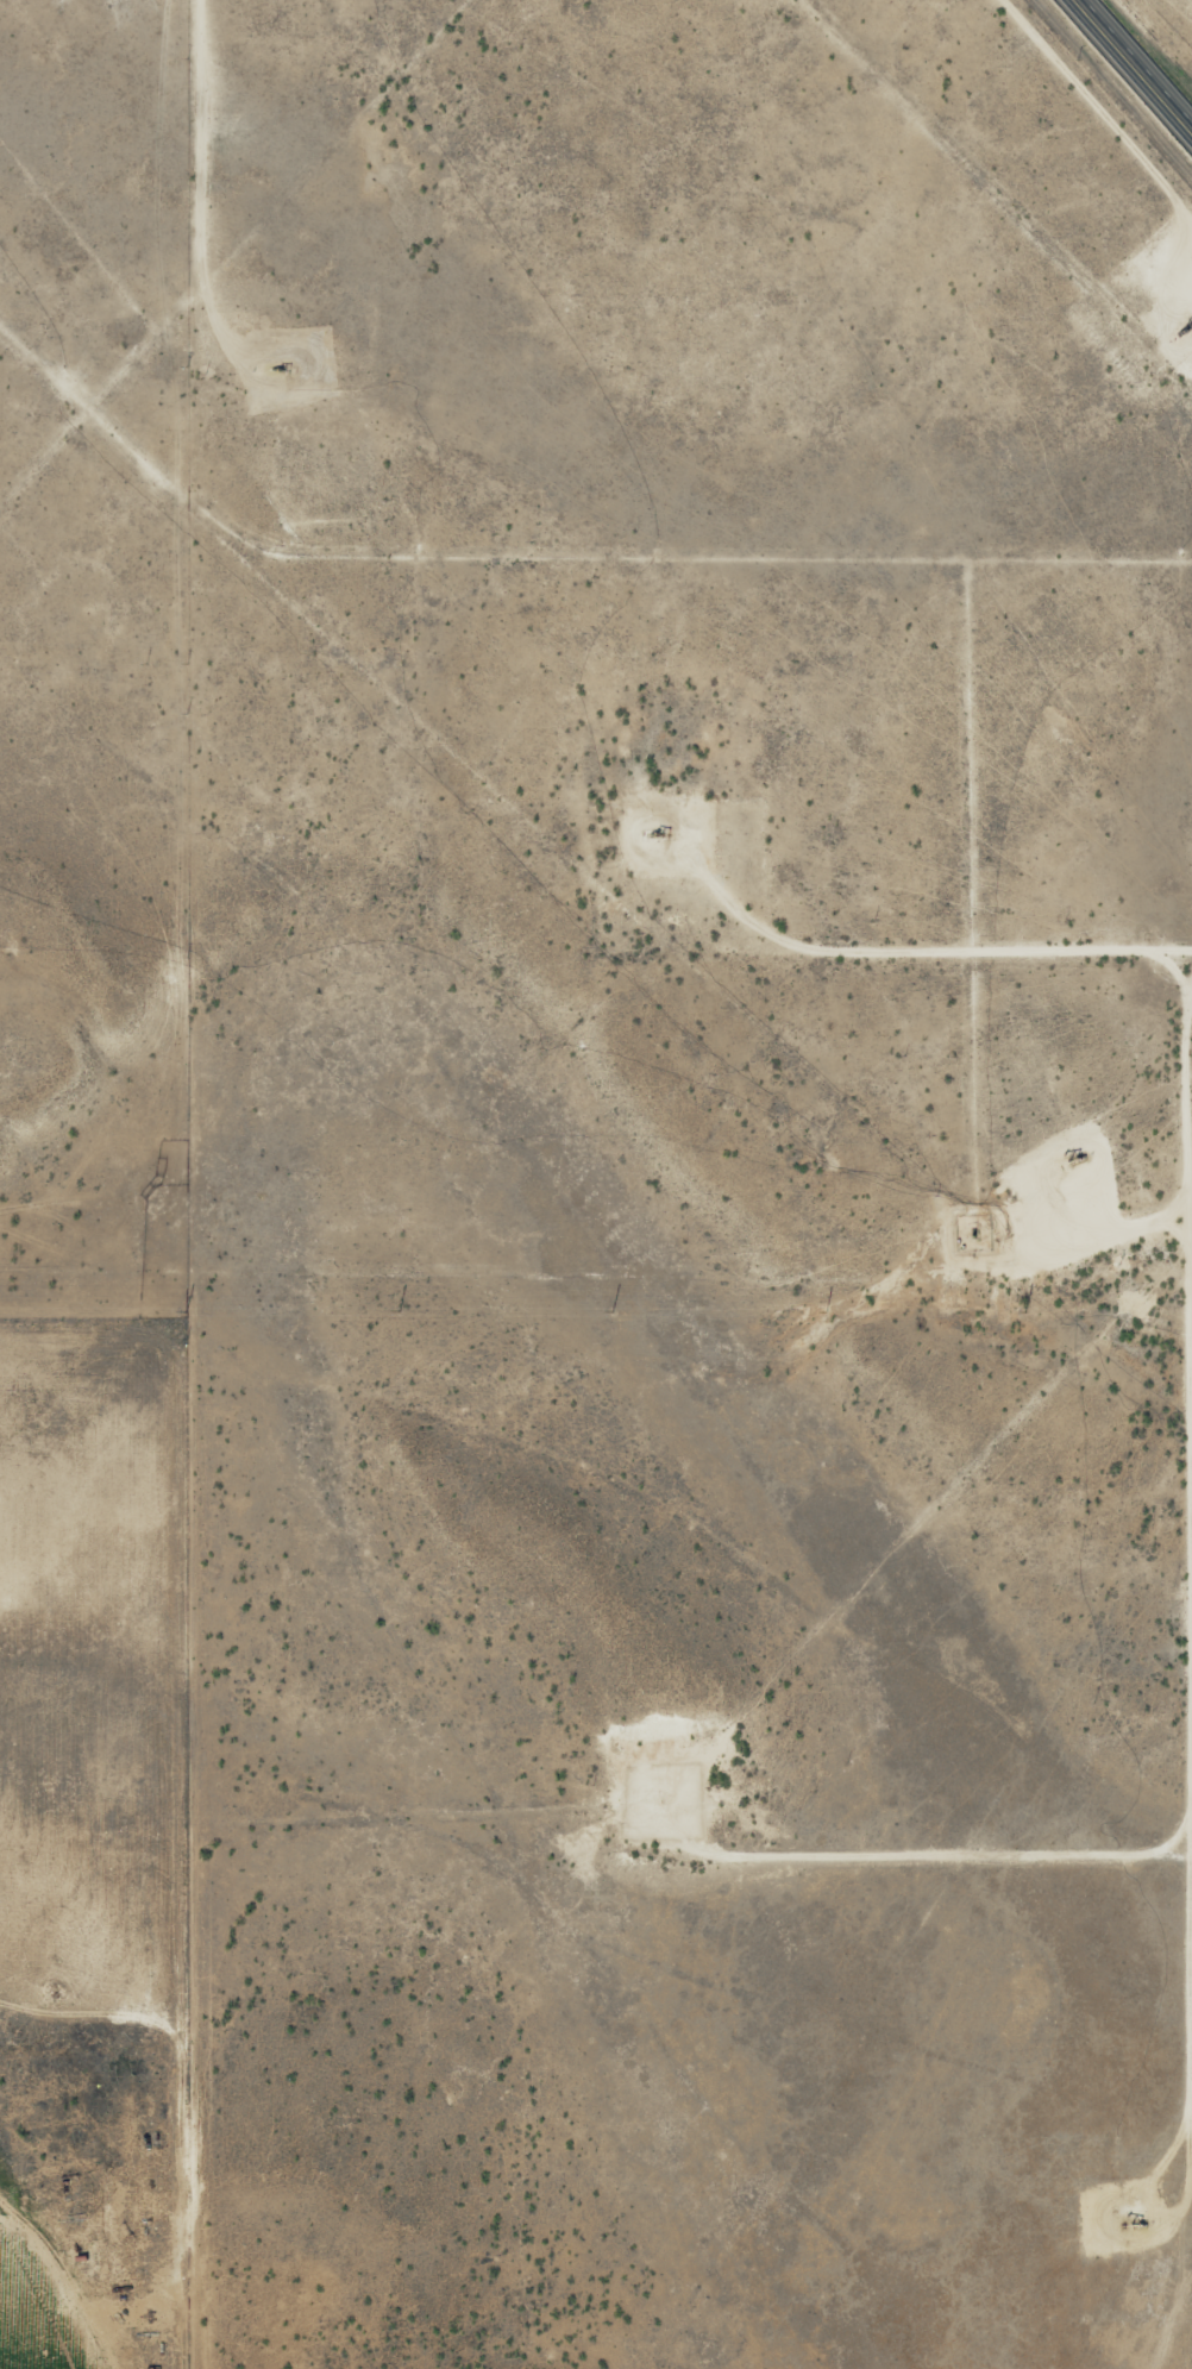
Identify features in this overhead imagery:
road: (1131, 65)
road: (716, 885)
road: (972, 945)
road: (1182, 1494)
road: (947, 1840)

